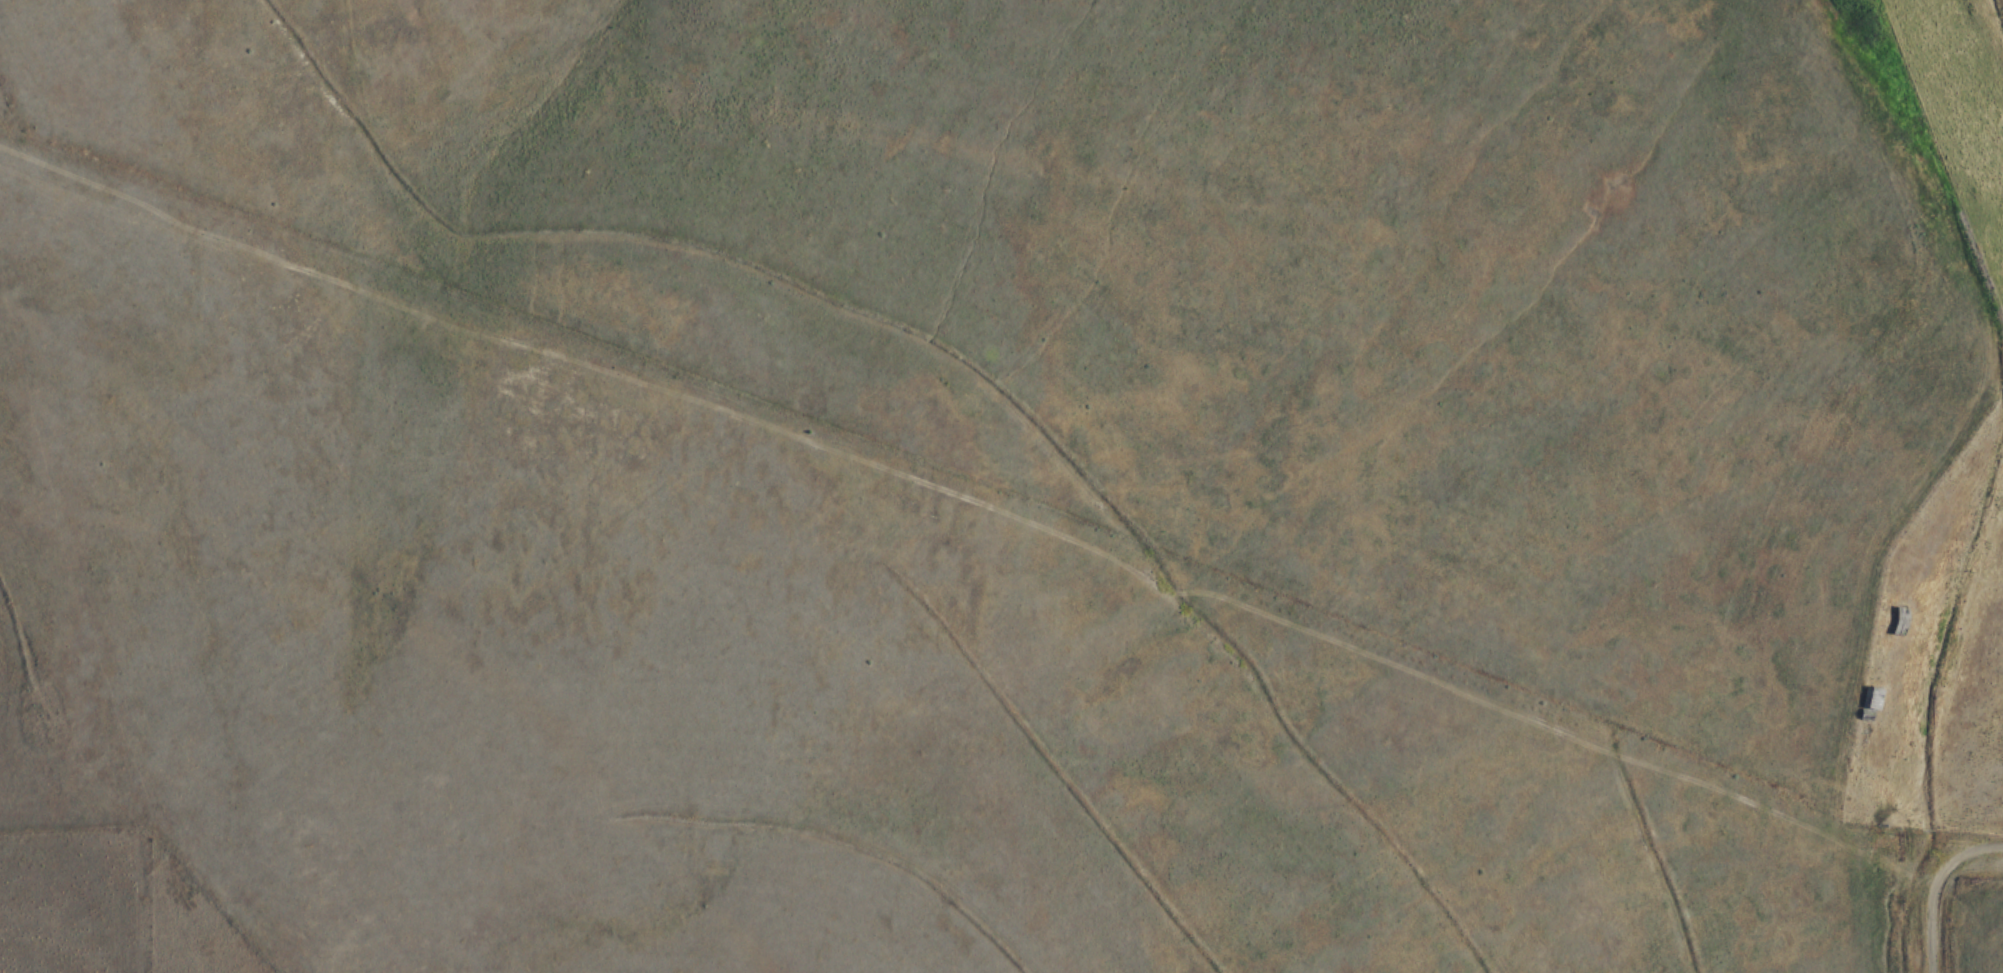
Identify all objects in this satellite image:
building: (1899, 620)
building: (1871, 702)
road: (1946, 903)

